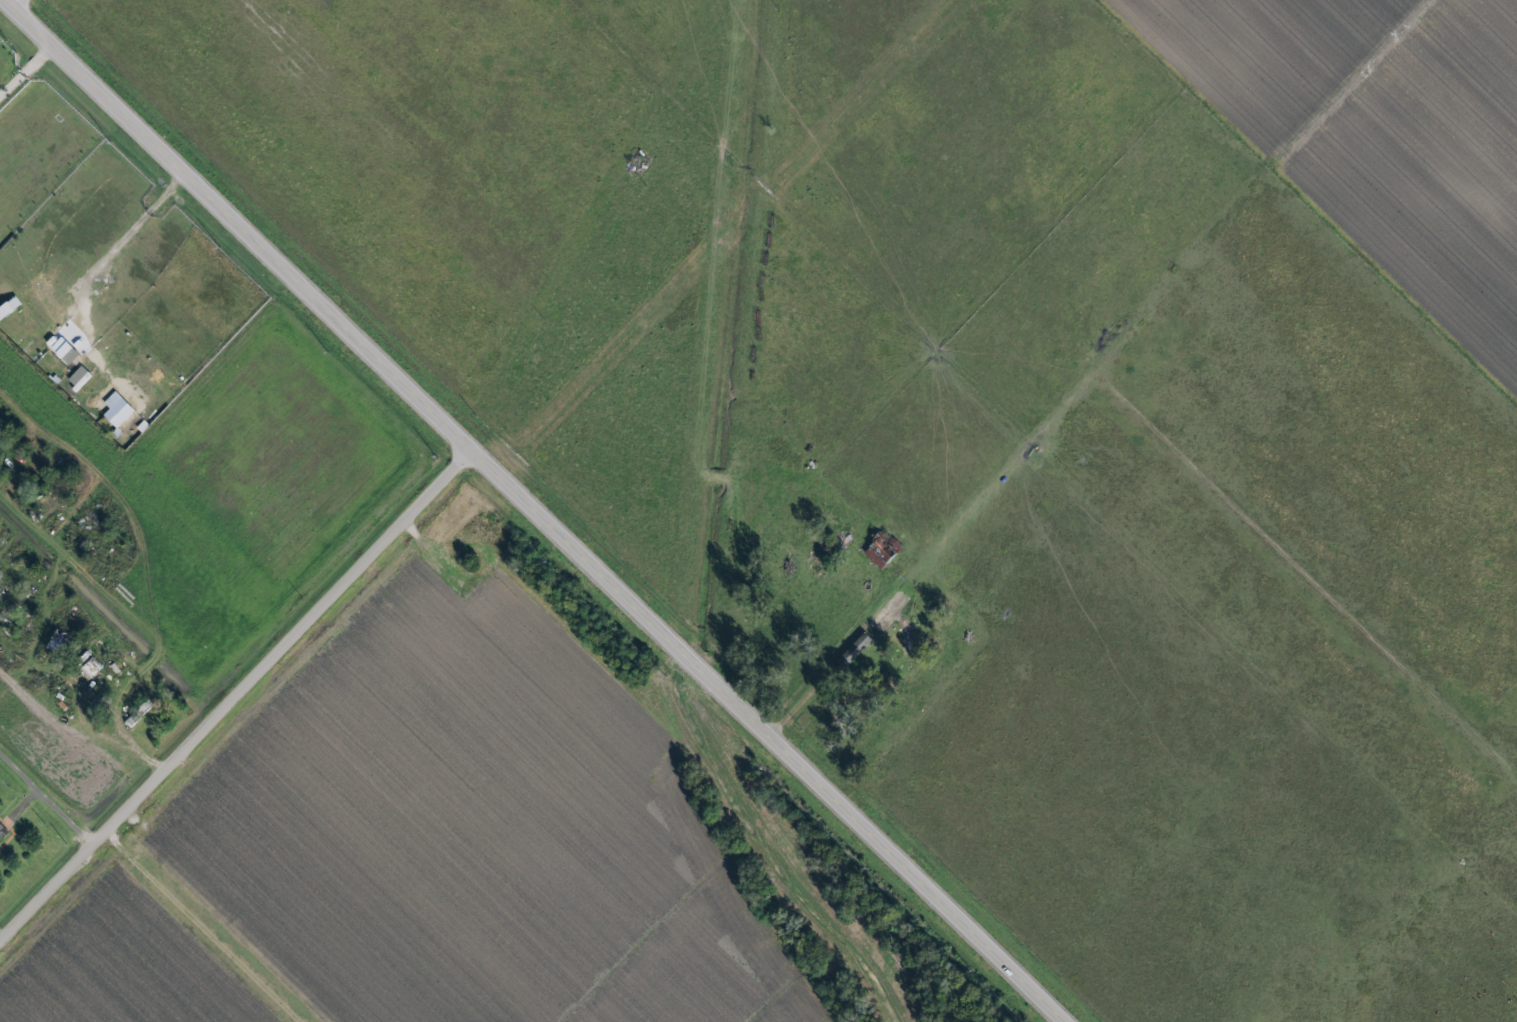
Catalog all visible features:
road: (23, 9)
road: (23, 70)
building: (9, 300)
road: (525, 512)
road: (972, 529)
road: (1313, 575)
building: (891, 609)
building: (864, 635)
building: (908, 635)
road: (233, 698)
road: (45, 801)
building: (3, 833)

